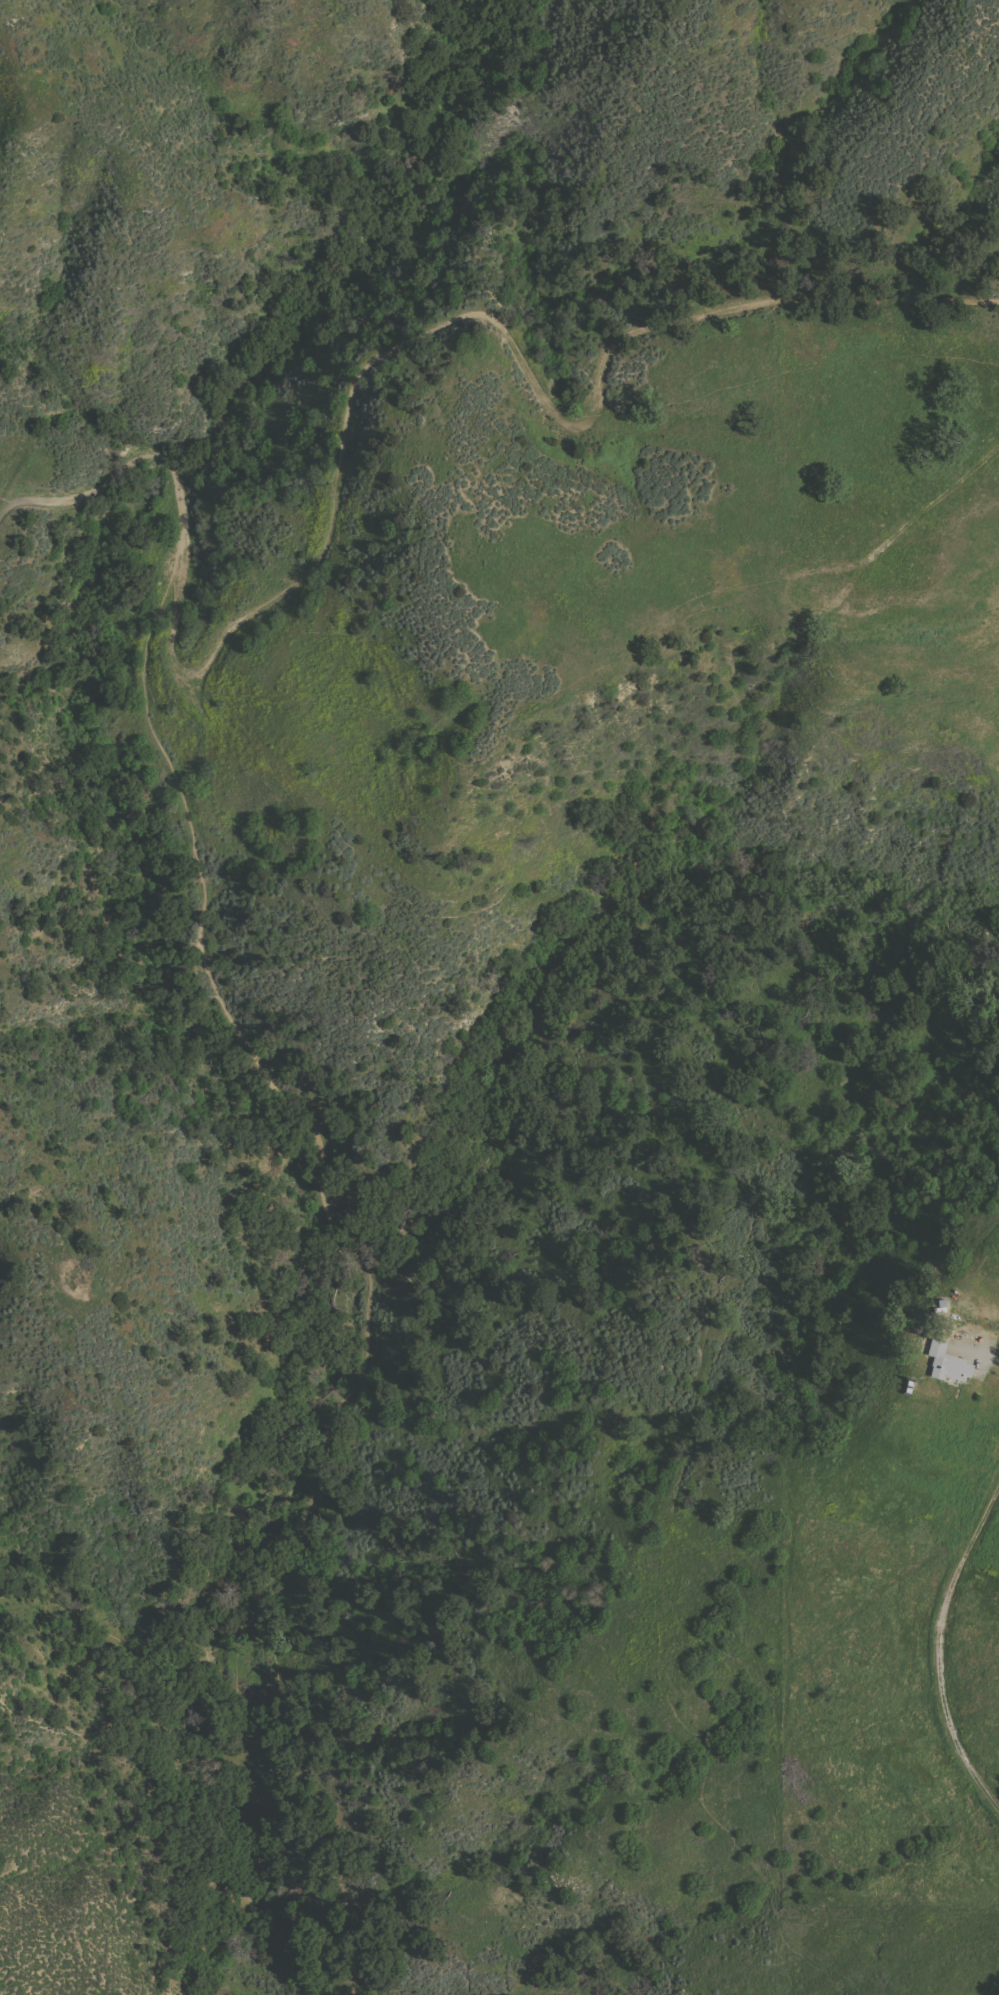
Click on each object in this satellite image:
road: (488, 316)
road: (131, 460)
road: (930, 502)
road: (360, 1275)
road: (976, 1353)
building: (946, 1363)
road: (935, 1645)

